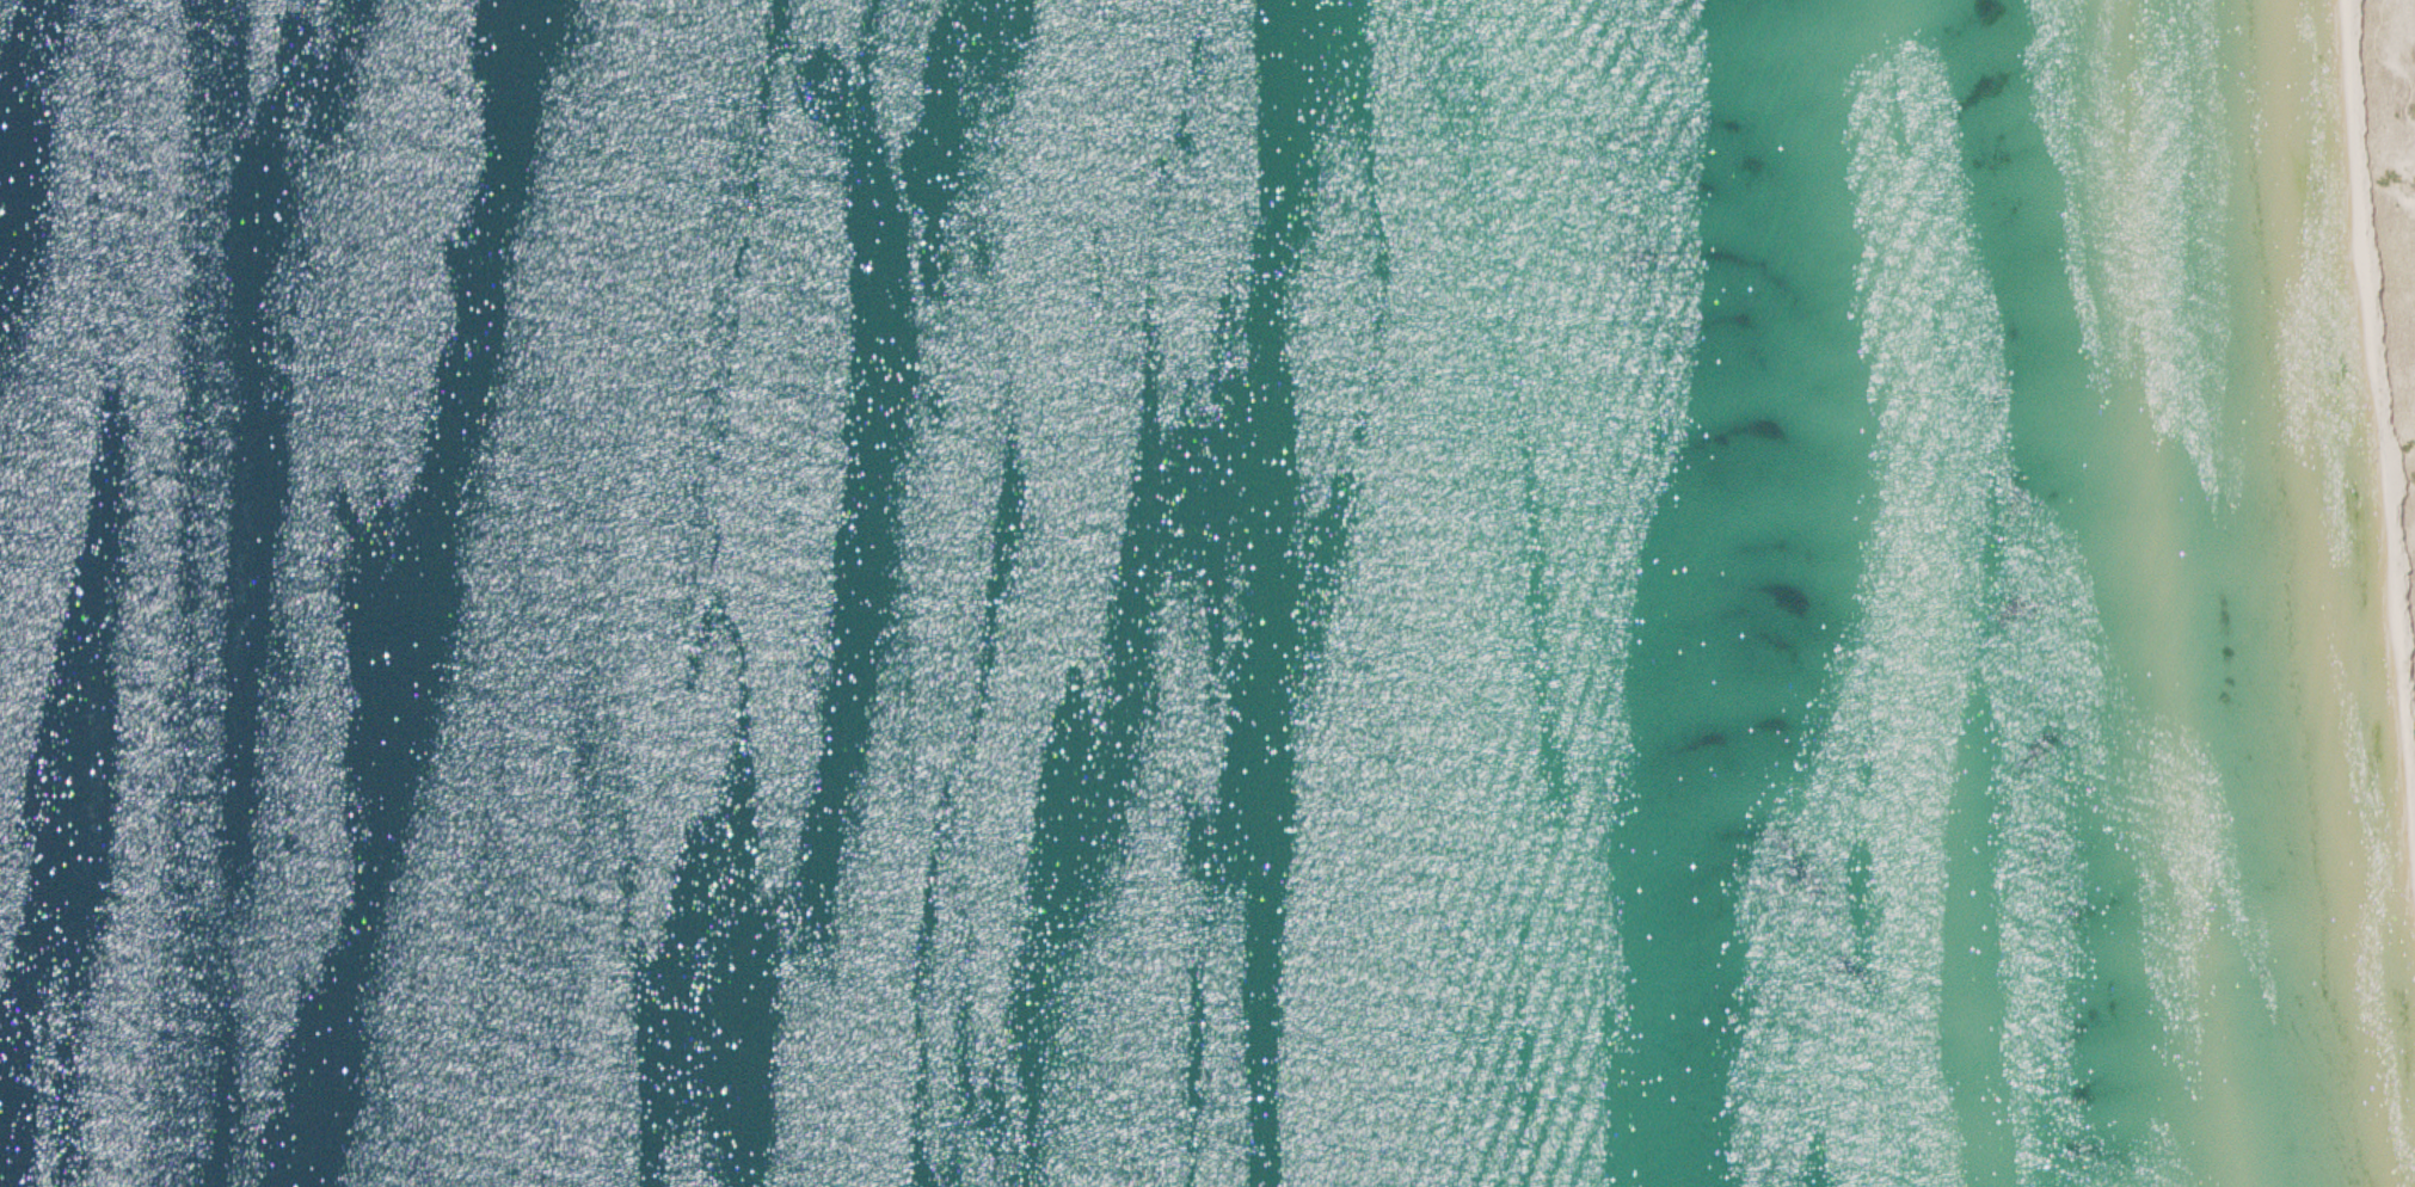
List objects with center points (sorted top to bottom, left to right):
park: (2355, 494)

